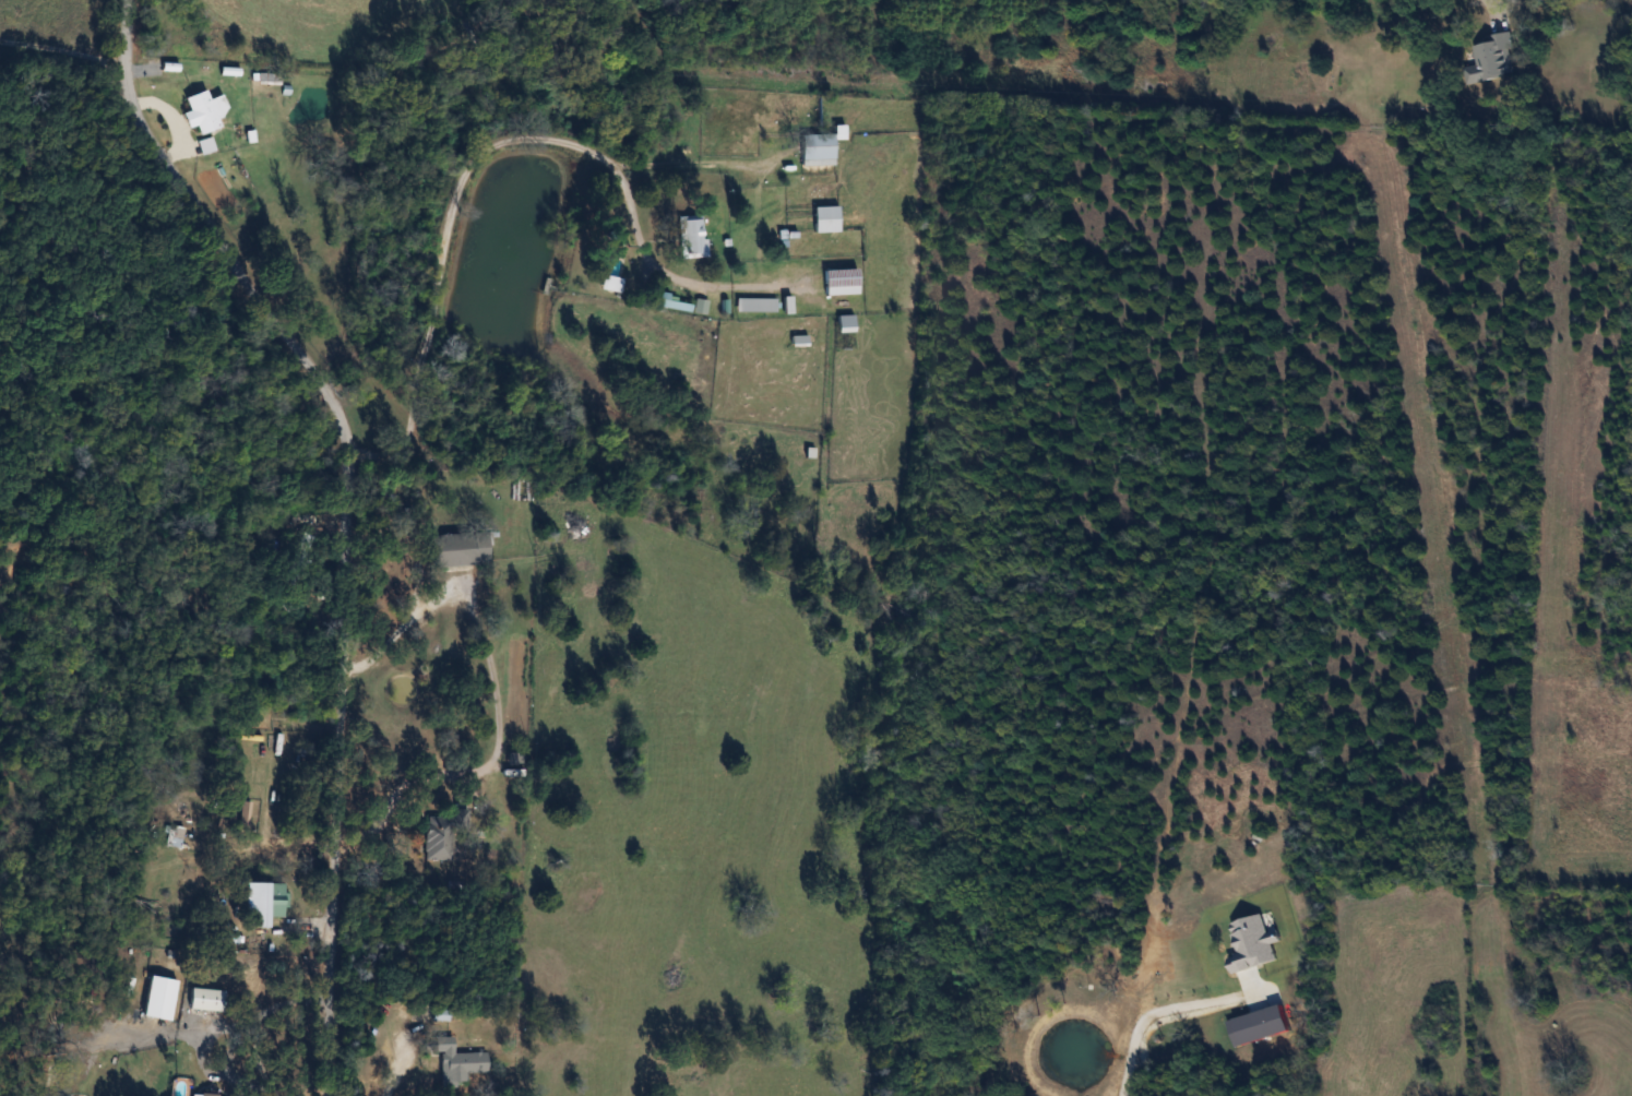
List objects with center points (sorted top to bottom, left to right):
road: (63, 47)
building: (1494, 55)
building: (203, 110)
road: (498, 143)
building: (818, 148)
building: (826, 218)
building: (693, 236)
building: (842, 282)
building: (612, 283)
building: (674, 302)
building: (755, 305)
building: (846, 323)
road: (350, 514)
building: (462, 548)
building: (444, 834)
building: (174, 836)
building: (264, 903)
building: (207, 1000)
road: (1158, 1009)
road: (260, 1013)
building: (458, 1064)
road: (398, 1065)
building: (207, 1095)

